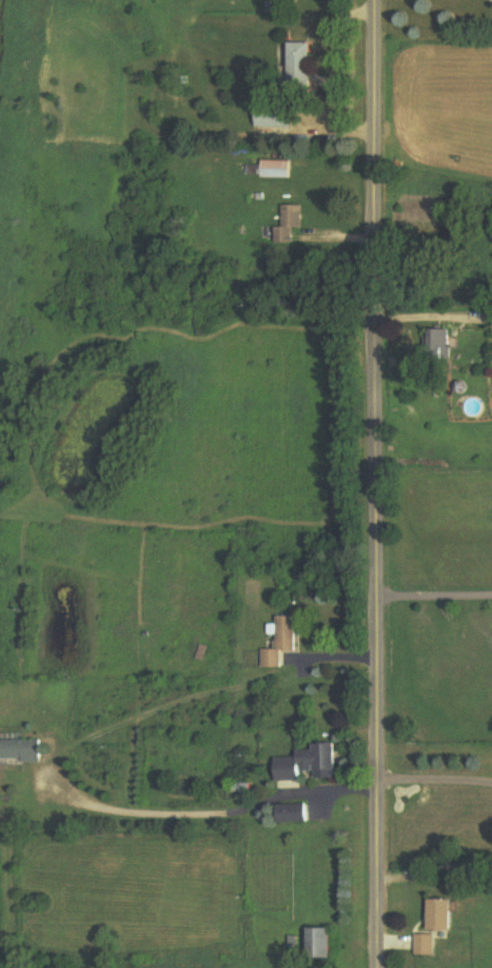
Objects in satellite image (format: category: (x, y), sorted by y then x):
building: (297, 65)
building: (274, 117)
building: (276, 170)
building: (290, 224)
road: (436, 316)
road: (379, 484)
road: (435, 595)
building: (282, 643)
building: (20, 751)
building: (311, 765)
road: (435, 778)
building: (295, 815)
building: (444, 915)
building: (326, 943)
building: (427, 945)

